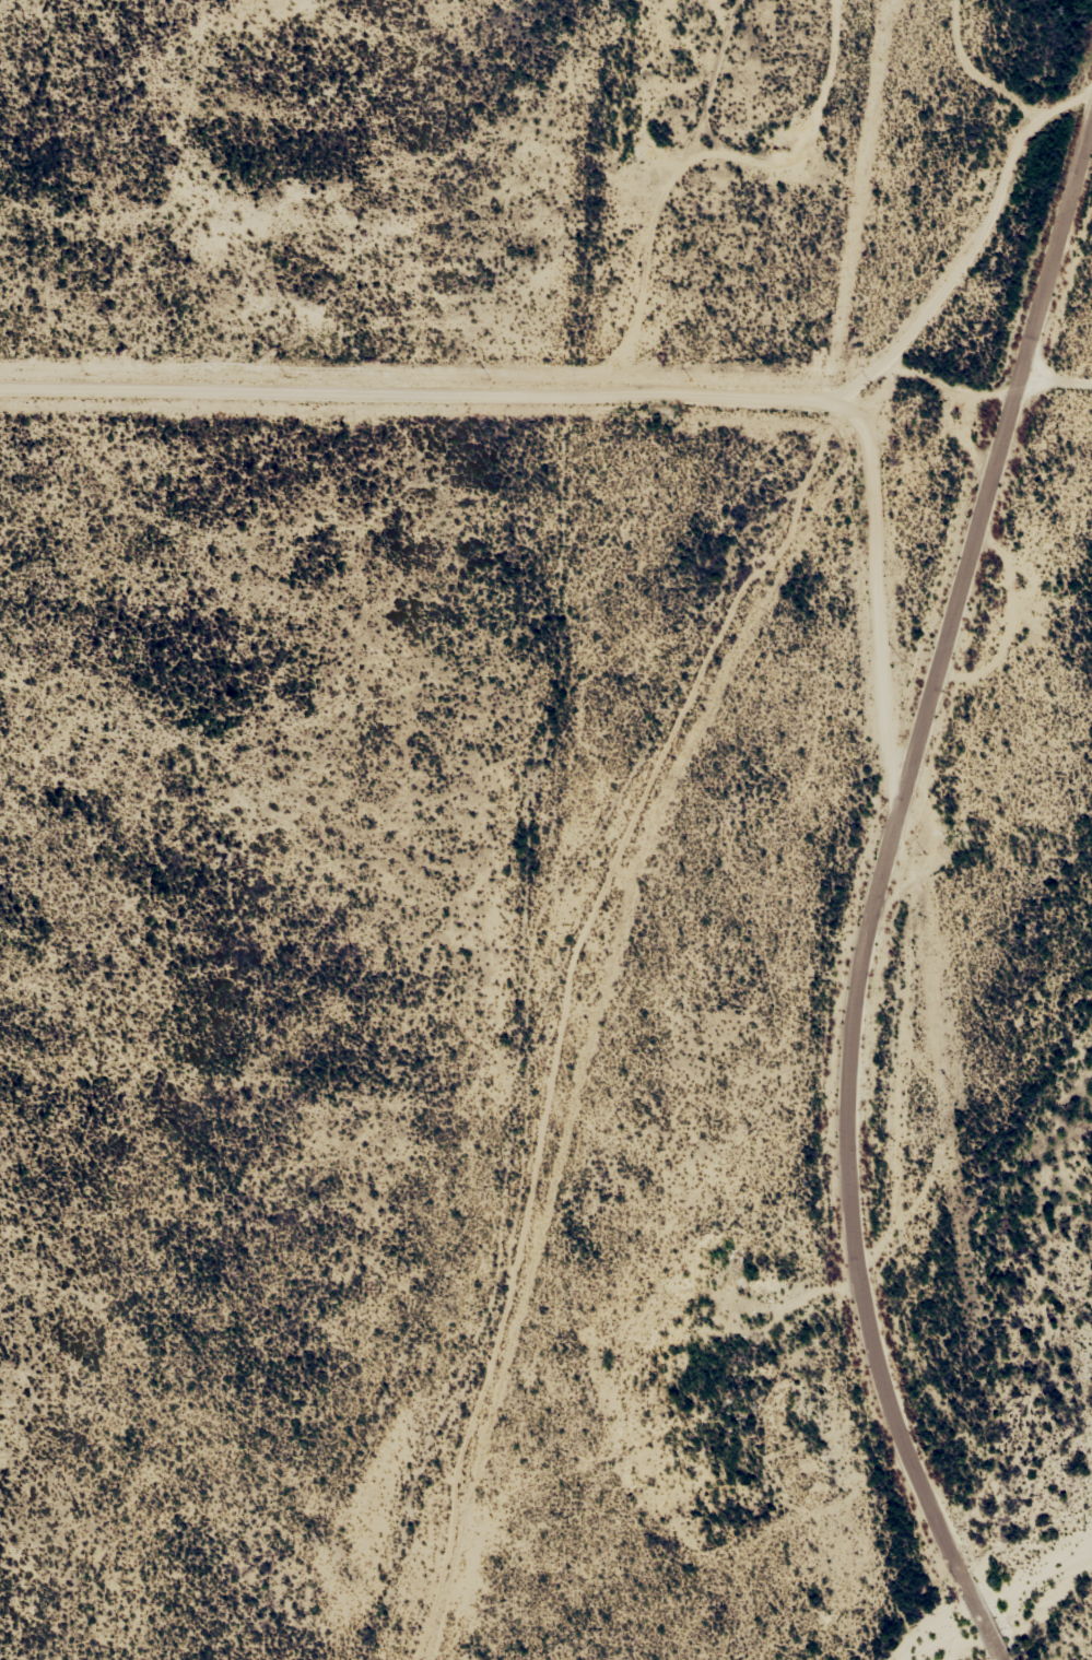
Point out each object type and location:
road: (488, 397)
road: (865, 867)
road: (1072, 1637)

